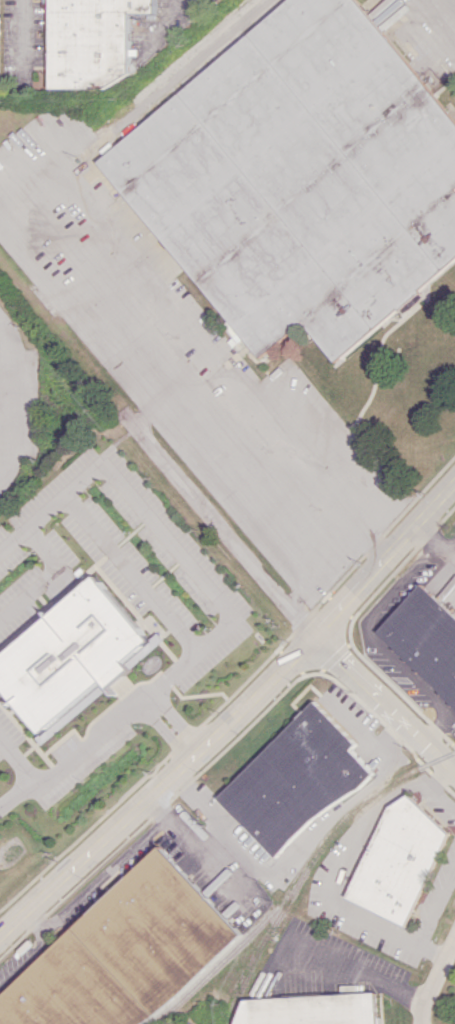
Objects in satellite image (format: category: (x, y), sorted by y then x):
road: (437, 18)
road: (22, 36)
building: (89, 41)
road: (165, 81)
building: (298, 177)
road: (191, 310)
road: (14, 393)
road: (185, 427)
road: (146, 512)
road: (225, 515)
road: (15, 536)
road: (439, 538)
road: (385, 543)
road: (452, 543)
road: (43, 554)
road: (388, 561)
road: (313, 594)
building: (425, 638)
road: (370, 644)
building: (71, 657)
road: (387, 700)
road: (71, 754)
building: (294, 780)
road: (13, 788)
road: (159, 788)
road: (158, 807)
road: (198, 848)
road: (299, 850)
road: (352, 854)
railway: (312, 860)
building: (400, 861)
road: (104, 875)
road: (438, 907)
road: (35, 924)
road: (433, 949)
building: (123, 953)
road: (24, 963)
road: (350, 963)
railway: (214, 968)
road: (434, 979)
building: (310, 1009)

